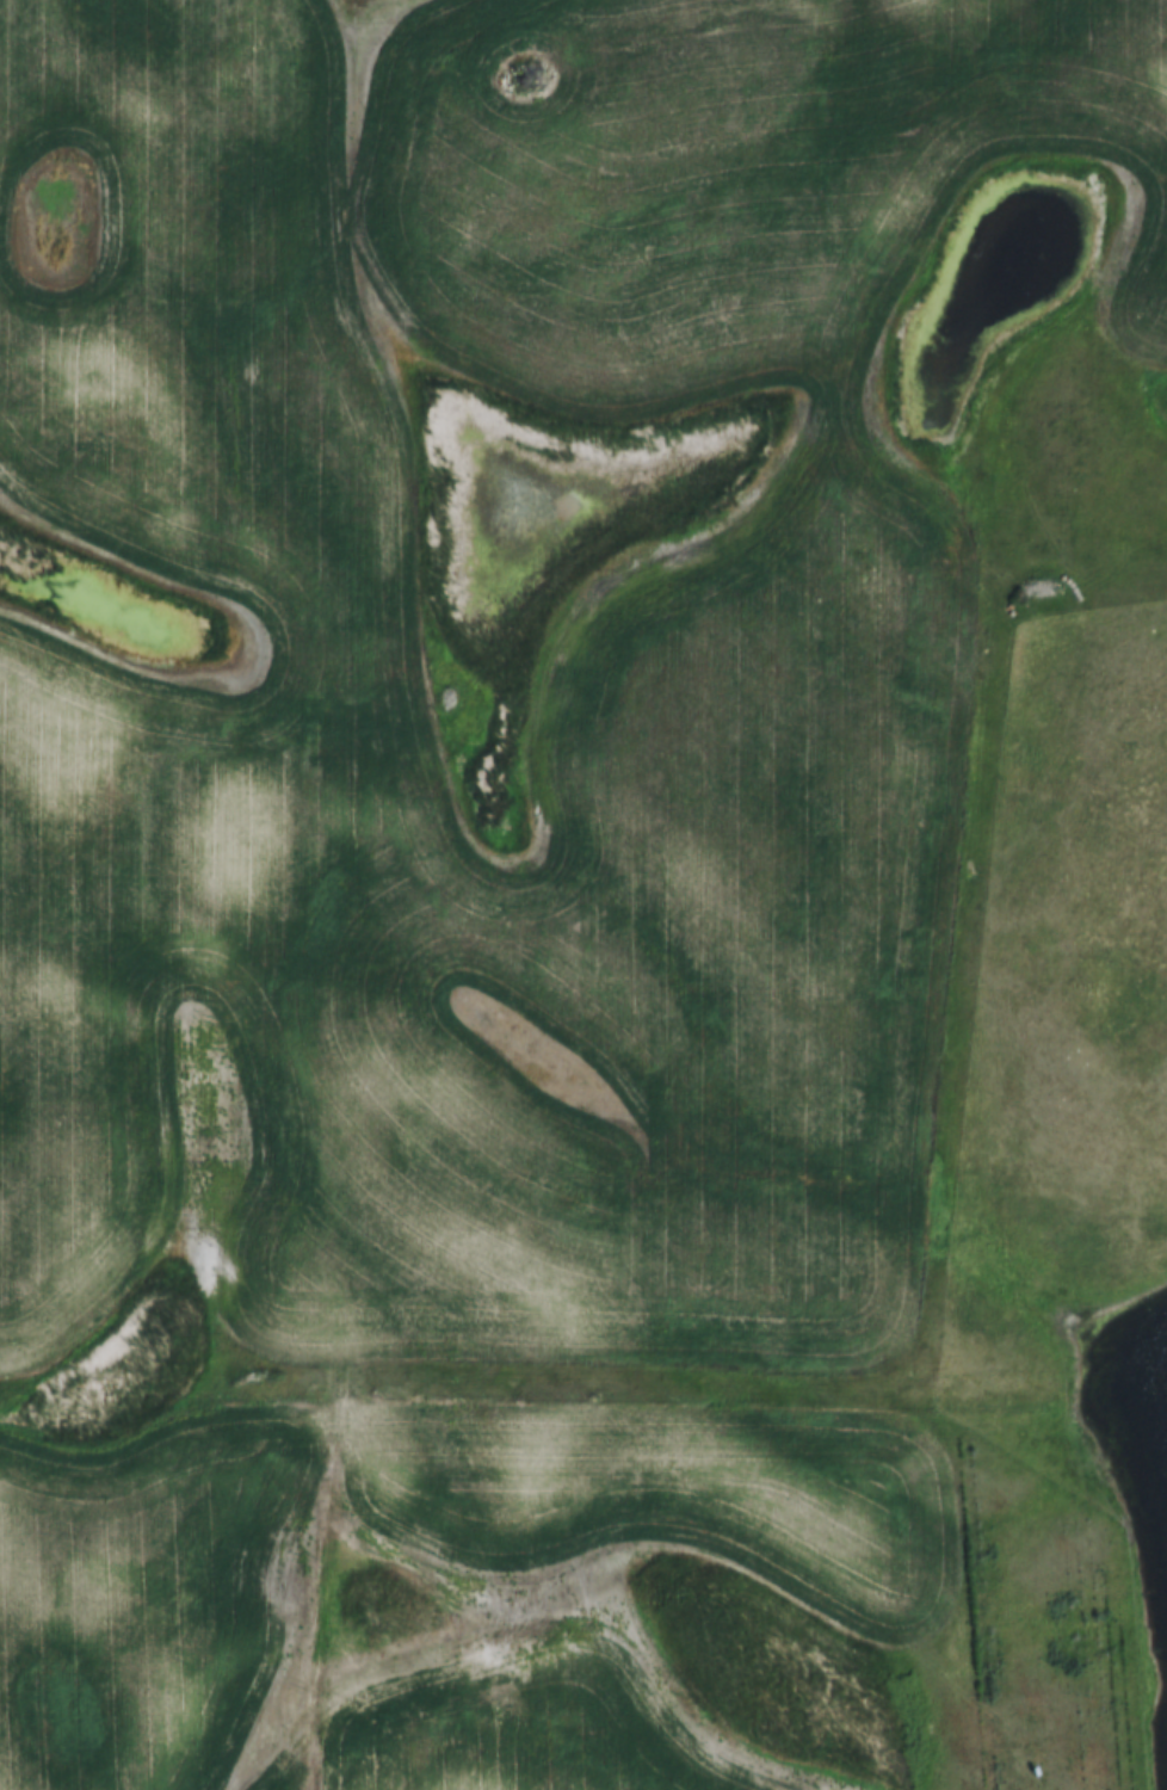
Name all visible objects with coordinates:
building: (1081, 505)
road: (16, 1360)

